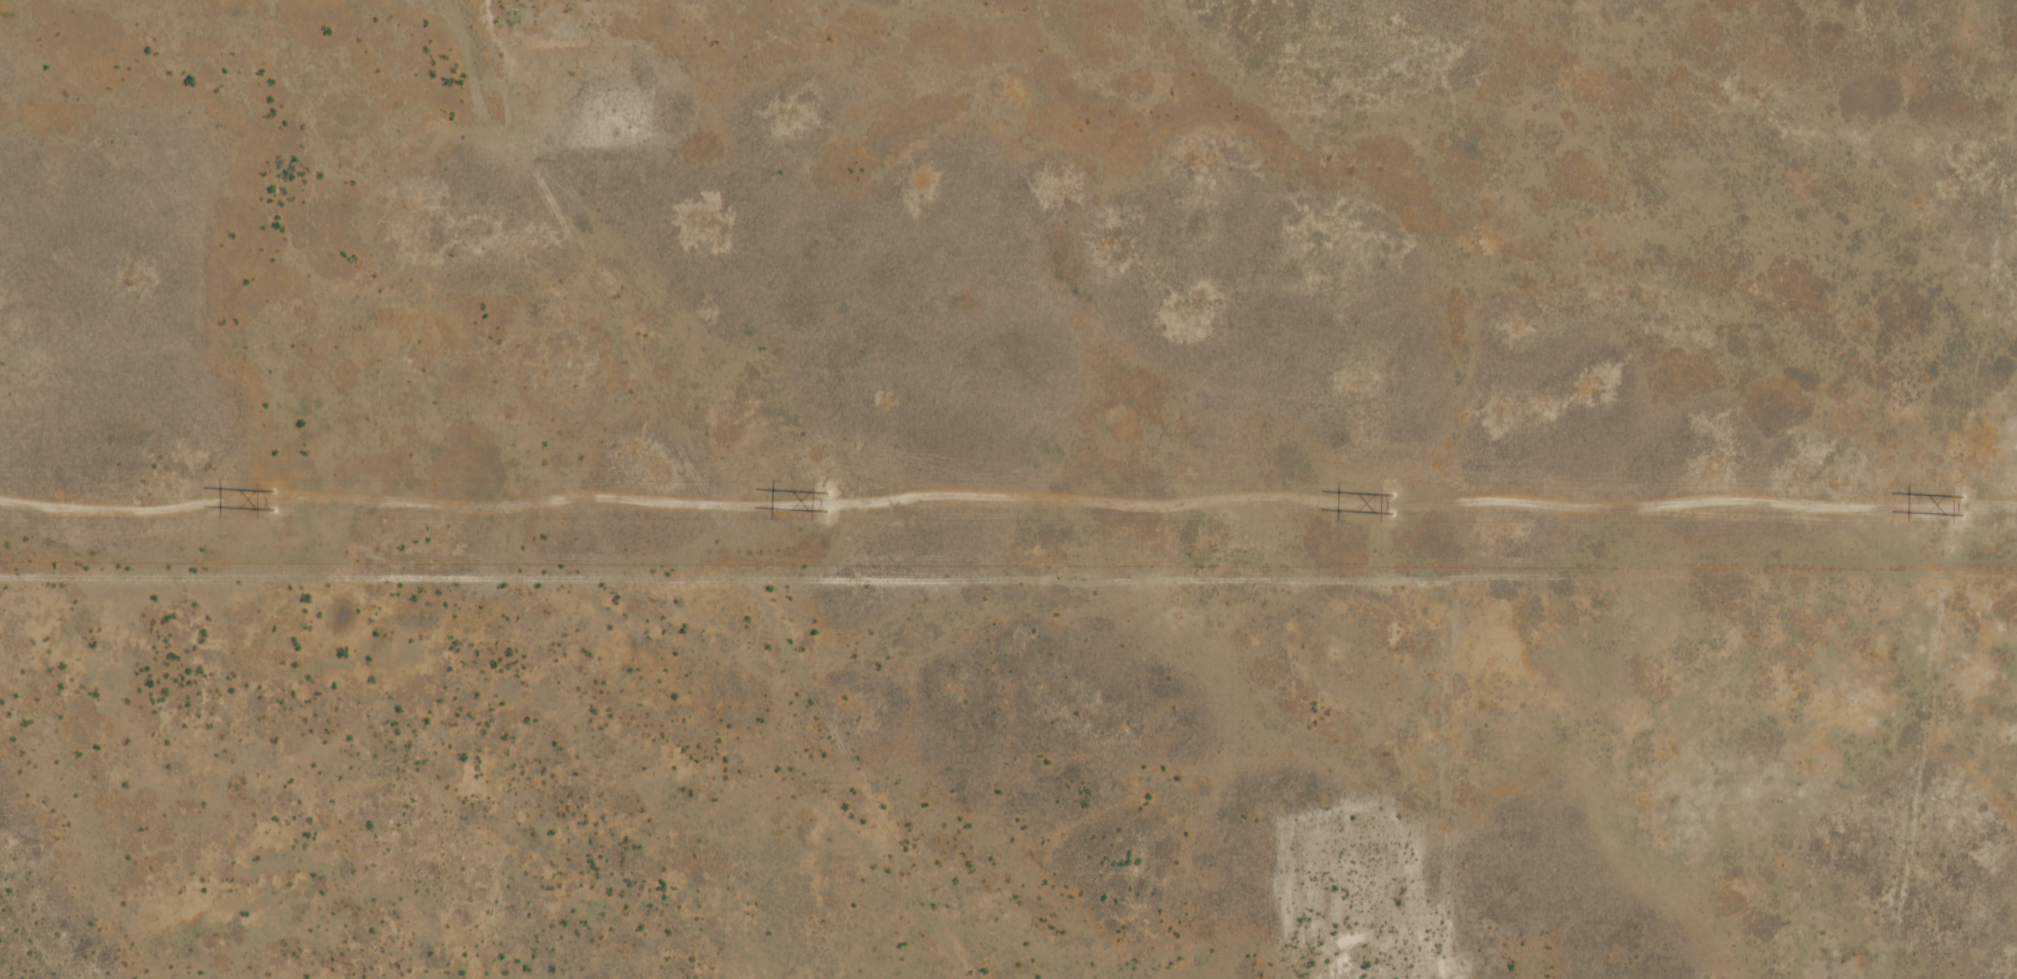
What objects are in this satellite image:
power tower: (264, 488)
power tower: (1387, 494)
power tower: (1953, 497)
road: (647, 611)

